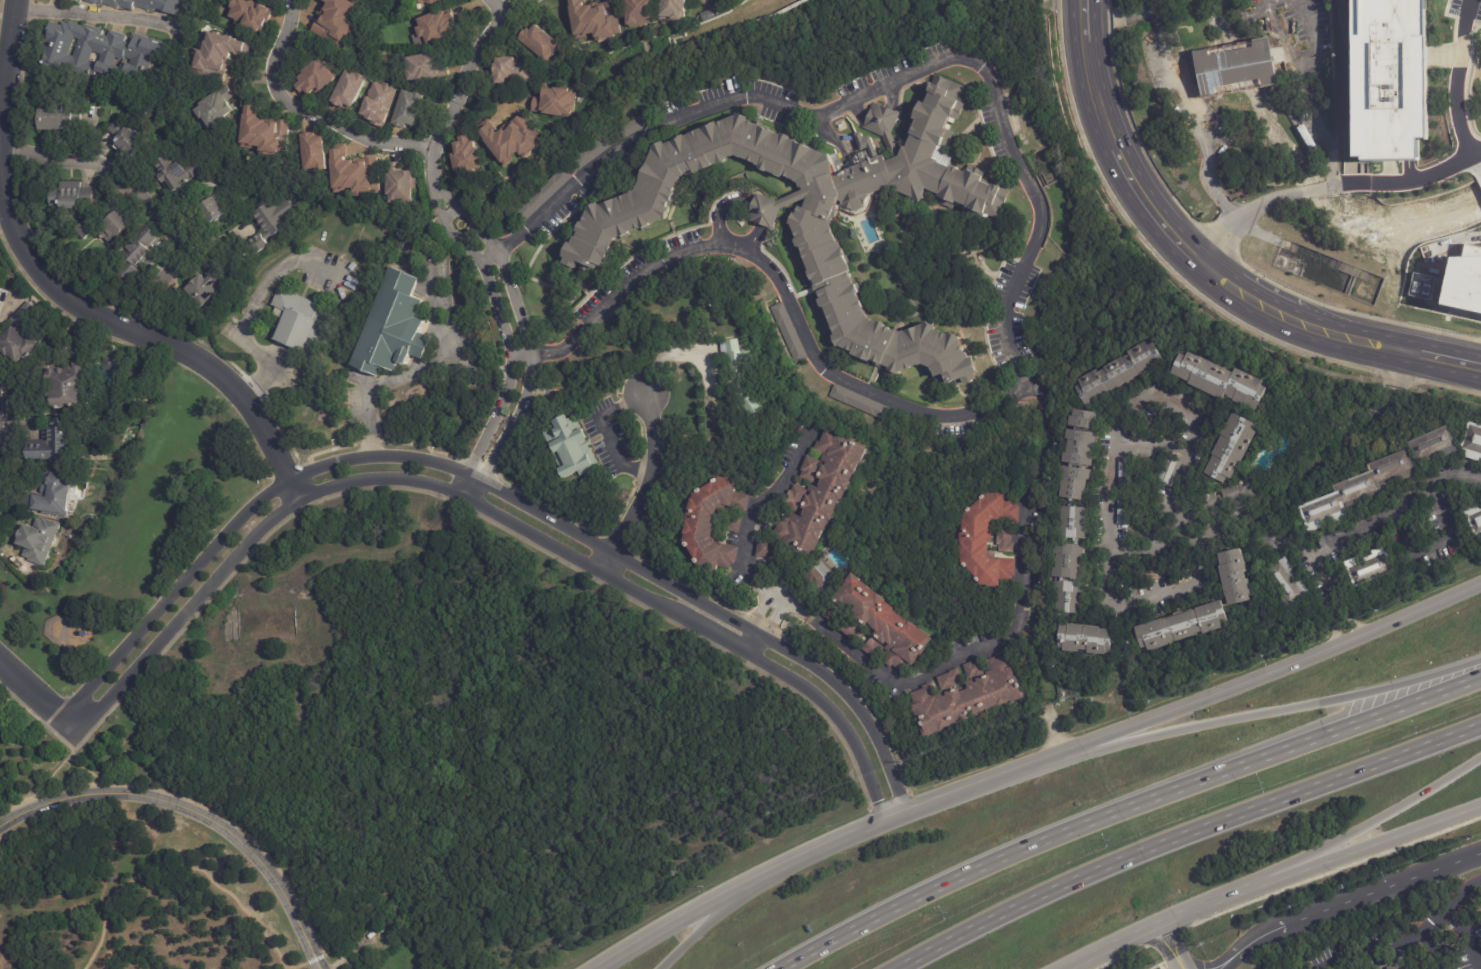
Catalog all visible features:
building: (188, 0)
building: (430, 1)
building: (144, 5)
road: (499, 7)
building: (670, 10)
building: (638, 12)
building: (251, 14)
building: (705, 15)
road: (93, 18)
building: (592, 21)
building: (336, 22)
building: (434, 27)
road: (7, 34)
building: (539, 41)
building: (99, 53)
building: (217, 55)
building: (424, 67)
building: (1232, 68)
building: (513, 70)
road: (1090, 76)
building: (316, 78)
building: (1388, 78)
road: (1456, 80)
road: (1303, 84)
road: (467, 86)
building: (350, 89)
building: (553, 102)
building: (216, 105)
building: (378, 105)
building: (409, 108)
road: (310, 109)
road: (1186, 114)
building: (50, 120)
building: (632, 125)
building: (264, 132)
building: (123, 138)
building: (511, 138)
building: (314, 152)
building: (587, 154)
building: (465, 158)
road: (1478, 162)
road: (1121, 165)
building: (177, 171)
building: (353, 172)
road: (1404, 182)
building: (400, 184)
road: (444, 185)
road: (1314, 191)
building: (540, 195)
building: (70, 196)
road: (141, 197)
road: (743, 198)
building: (211, 211)
building: (818, 214)
road: (1243, 215)
road: (1159, 221)
building: (268, 227)
building: (111, 228)
building: (83, 232)
building: (136, 256)
road: (1028, 258)
road: (492, 262)
building: (1468, 283)
building: (204, 286)
road: (1240, 294)
road: (249, 302)
road: (517, 306)
road: (496, 312)
road: (122, 322)
building: (298, 323)
building: (392, 327)
building: (25, 333)
building: (789, 333)
road: (1344, 337)
road: (521, 355)
road: (1439, 358)
building: (109, 363)
road: (411, 372)
building: (1117, 372)
building: (743, 379)
building: (1221, 381)
building: (75, 387)
road: (1168, 400)
building: (867, 406)
road: (490, 425)
road: (510, 430)
road: (603, 430)
building: (58, 441)
building: (1471, 443)
building: (568, 444)
building: (1431, 448)
building: (1229, 449)
road: (1321, 456)
building: (1167, 471)
building: (1123, 475)
road: (646, 487)
road: (493, 489)
building: (1356, 492)
building: (819, 494)
building: (55, 498)
building: (1226, 498)
road: (480, 504)
road: (757, 510)
building: (1073, 510)
building: (1123, 511)
building: (1474, 521)
building: (710, 524)
road: (1345, 528)
park: (138, 533)
building: (39, 540)
building: (989, 540)
road: (1435, 544)
building: (762, 549)
road: (1112, 555)
building: (1369, 569)
building: (1235, 577)
building: (818, 578)
road: (1191, 582)
building: (1284, 585)
road: (757, 610)
road: (773, 620)
building: (875, 626)
building: (1180, 629)
building: (1084, 641)
road: (753, 644)
road: (953, 663)
road: (1266, 673)
road: (31, 689)
building: (964, 696)
road: (1266, 713)
road: (36, 717)
road: (40, 789)
road: (31, 805)
road: (1125, 808)
road: (195, 812)
road: (1389, 813)
road: (1185, 836)
road: (1389, 836)
road: (818, 851)
road: (1287, 888)
road: (1238, 892)
road: (1343, 903)
building: (375, 928)
road: (702, 928)
road: (1464, 935)
road: (1405, 936)
road: (1124, 942)
road: (1174, 942)
road: (1161, 946)
road: (1429, 949)
building: (1397, 966)

